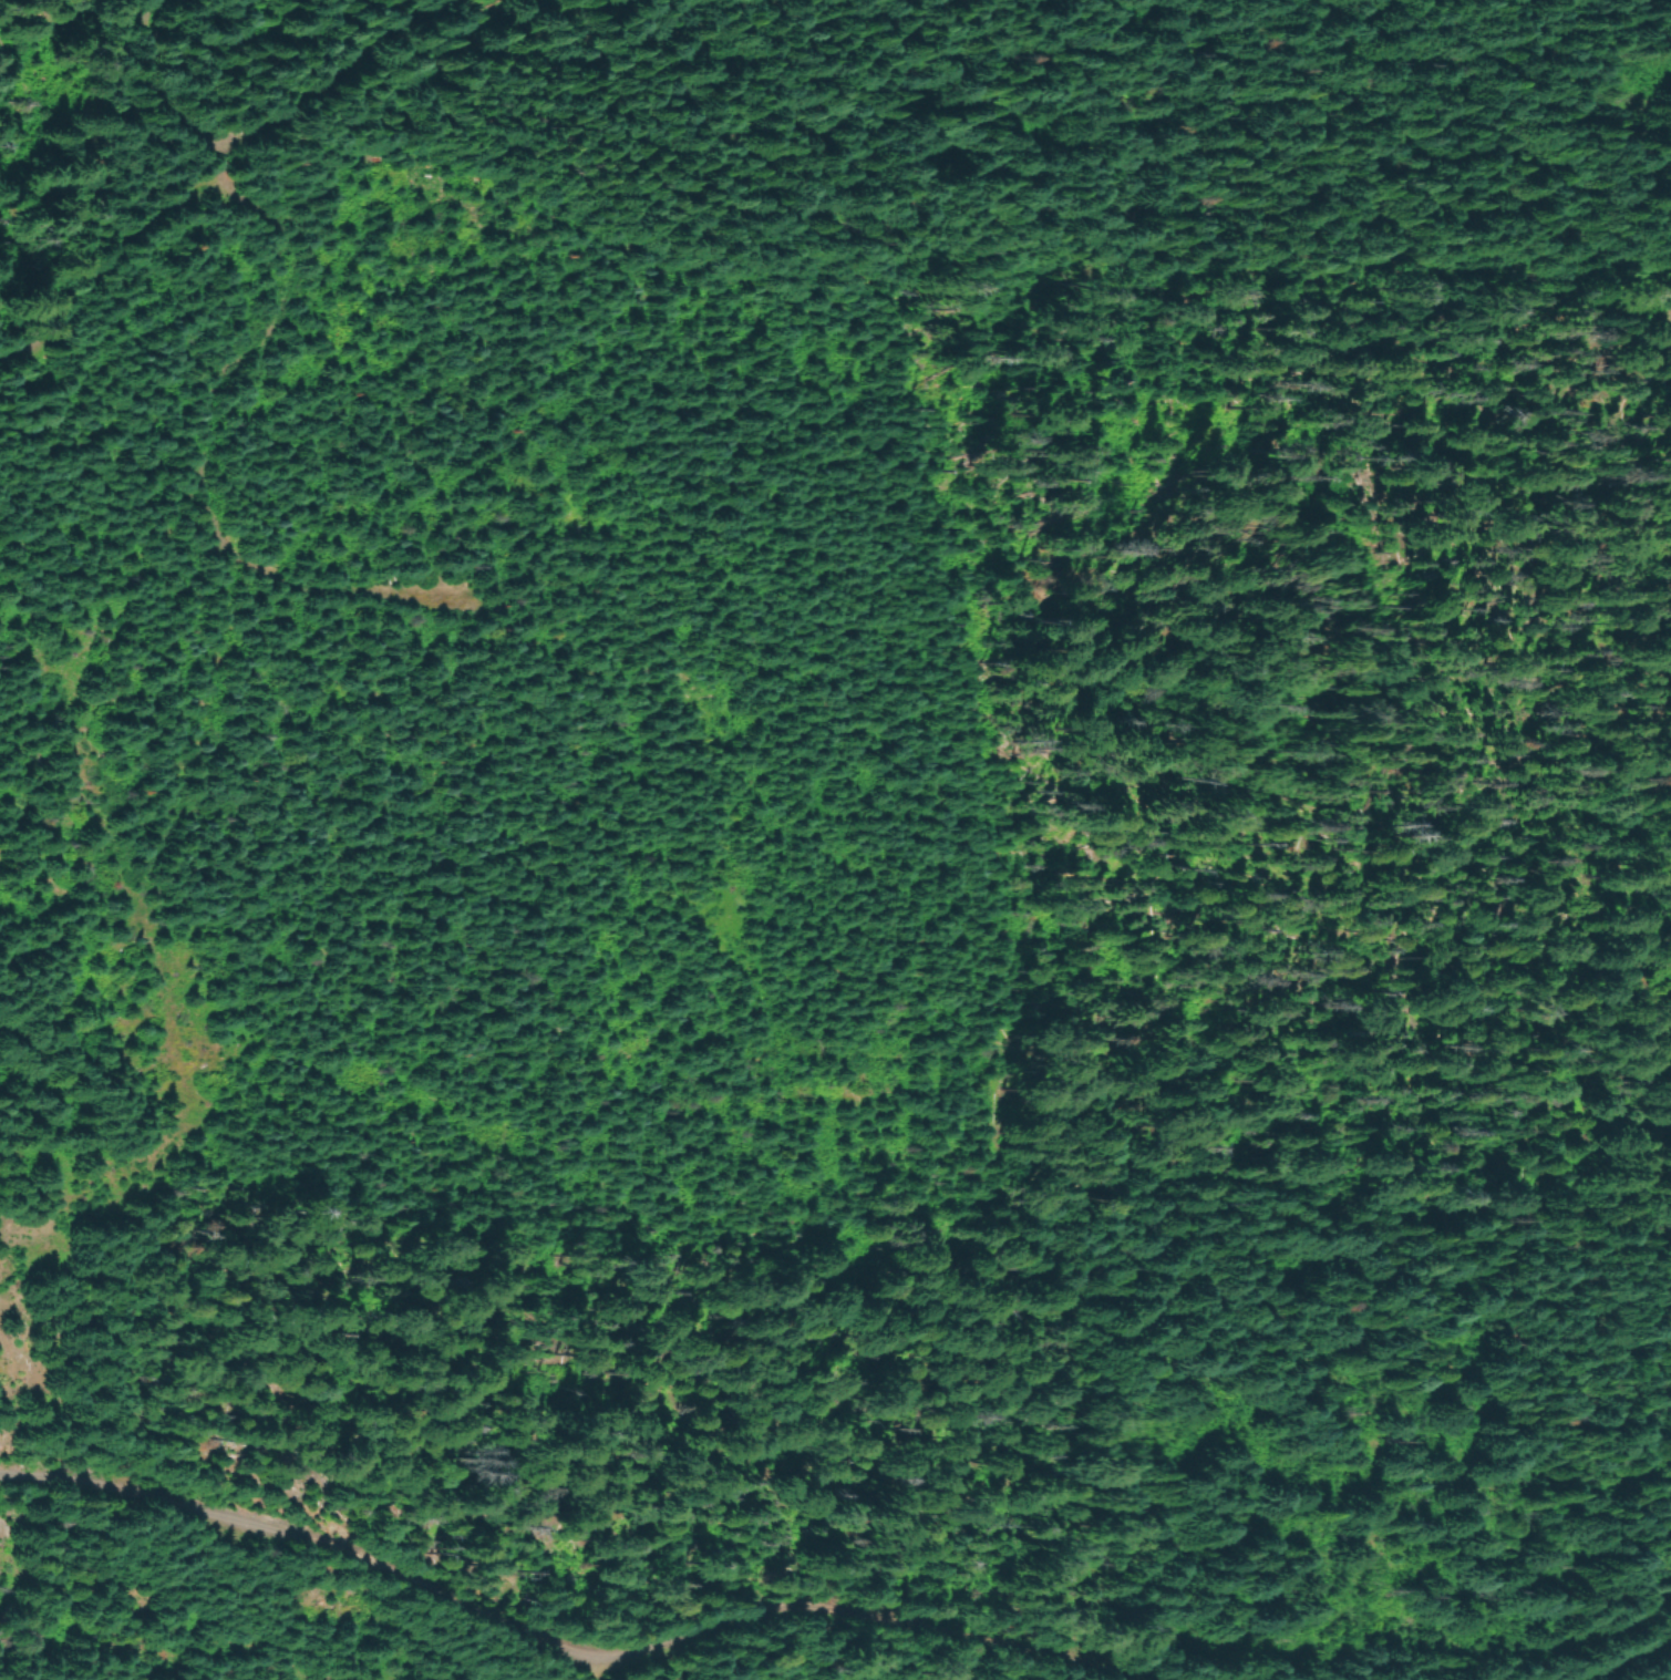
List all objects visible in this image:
road: (257, 123)
road: (118, 247)
road: (566, 1650)
road: (1620, 1660)

